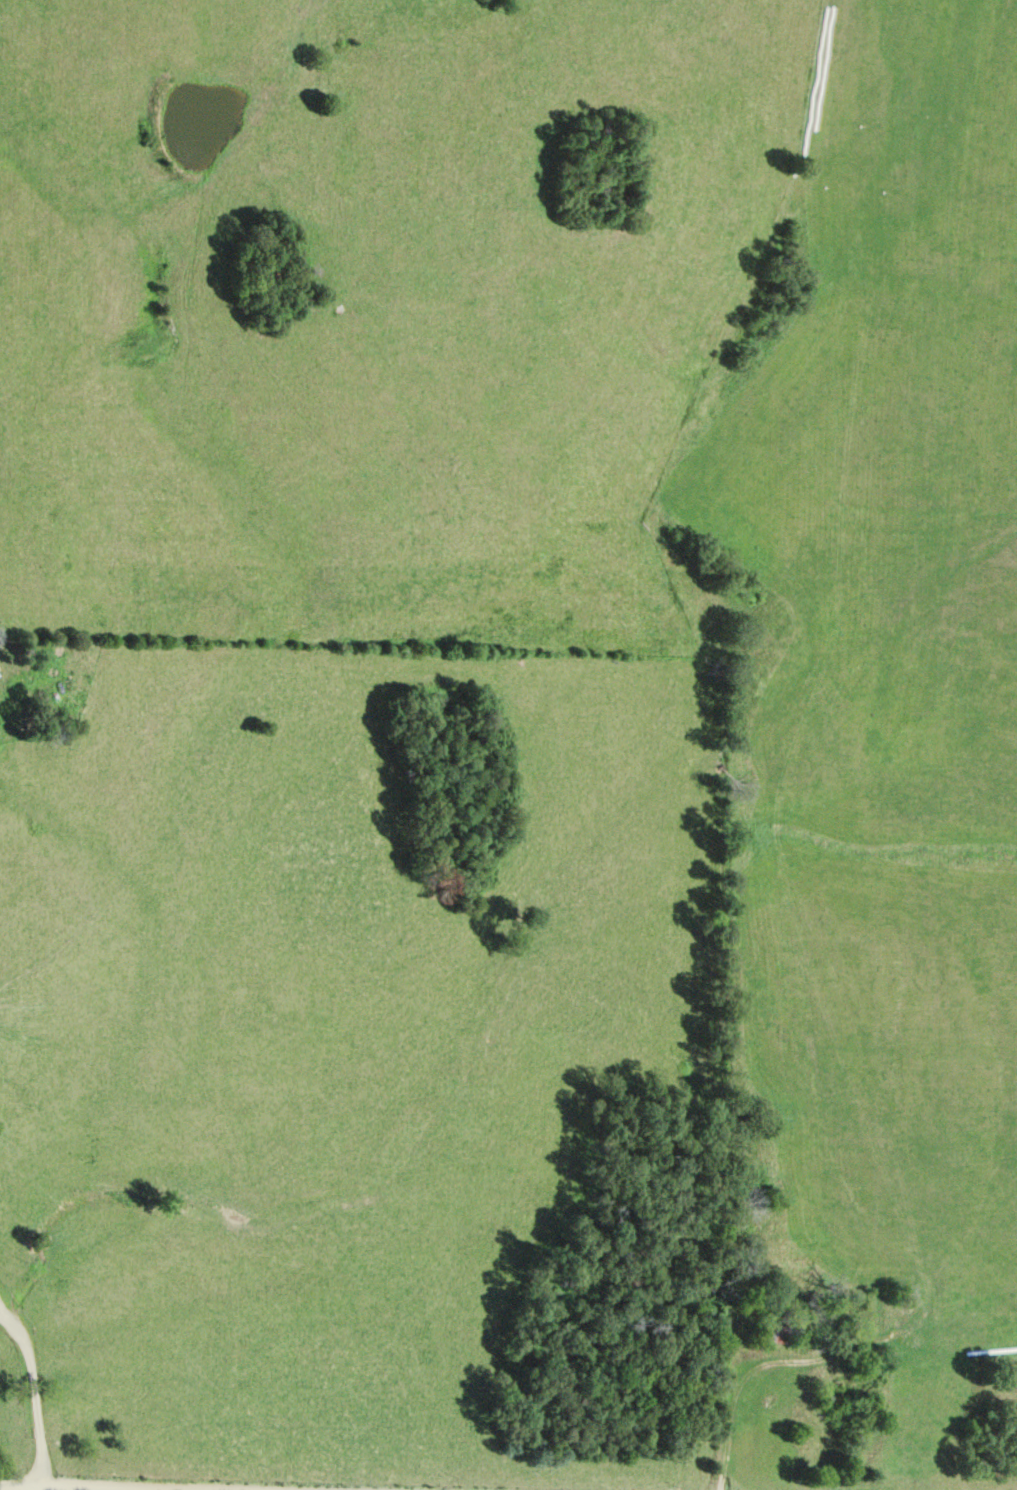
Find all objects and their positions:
road: (770, 1360)
road: (108, 1487)

